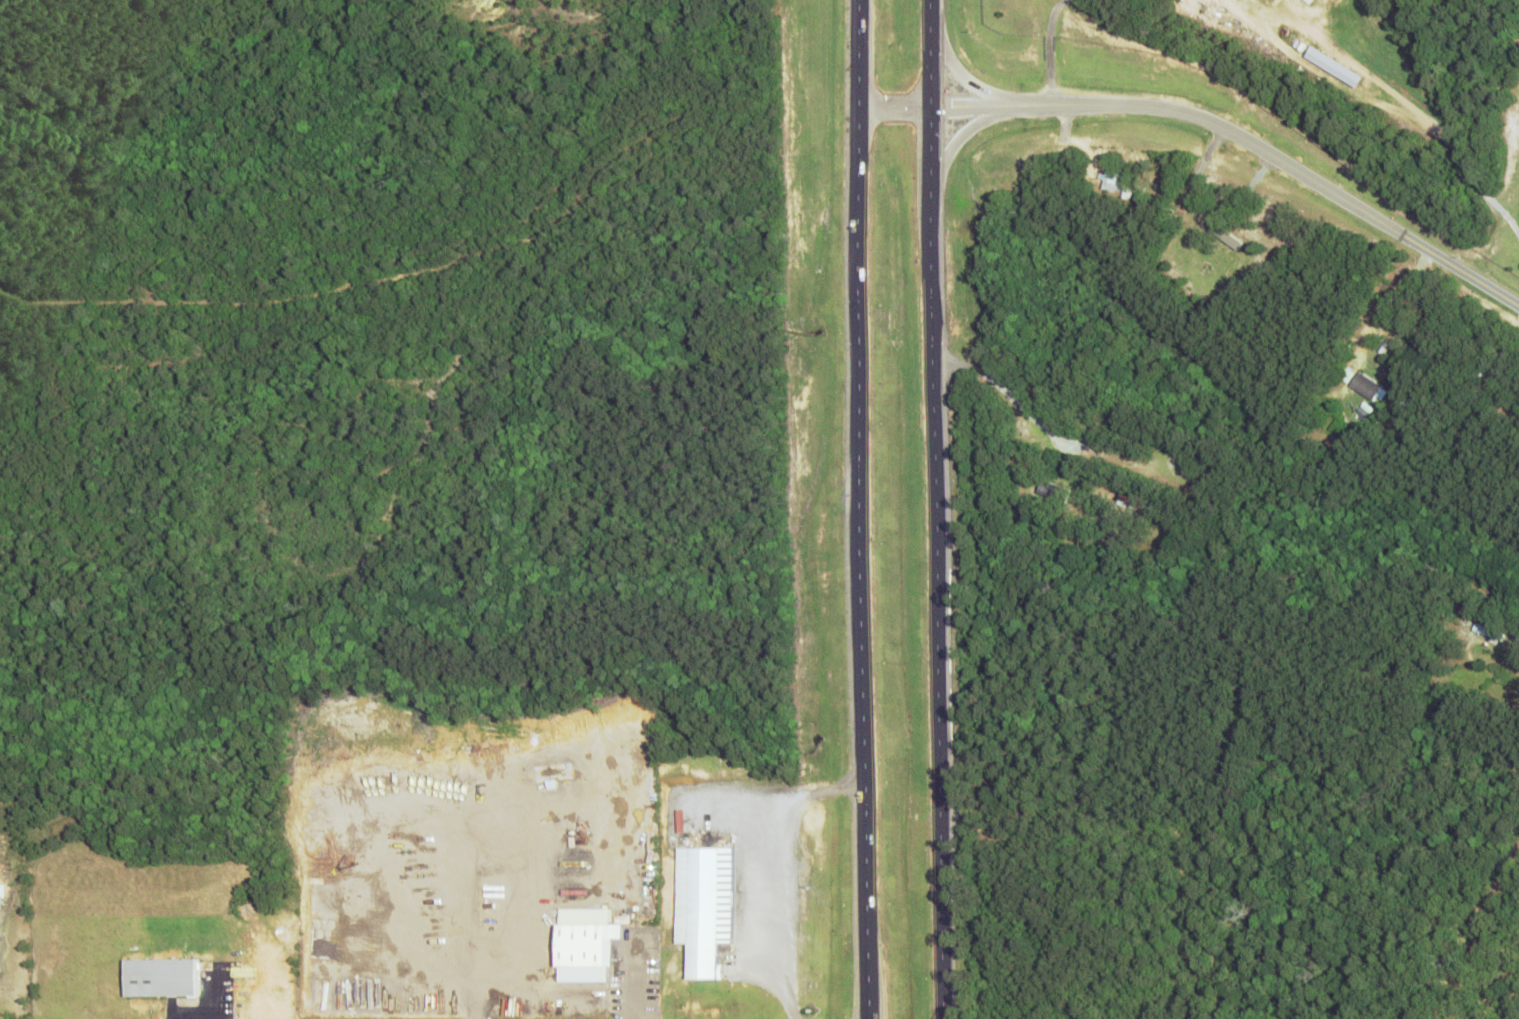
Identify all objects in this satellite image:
building: (1327, 64)
road: (961, 73)
road: (931, 108)
road: (955, 138)
road: (1277, 156)
building: (1228, 238)
building: (1364, 384)
road: (1447, 470)
road: (860, 509)
road: (934, 509)
road: (1498, 863)
building: (701, 907)
building: (583, 943)
building: (157, 976)

